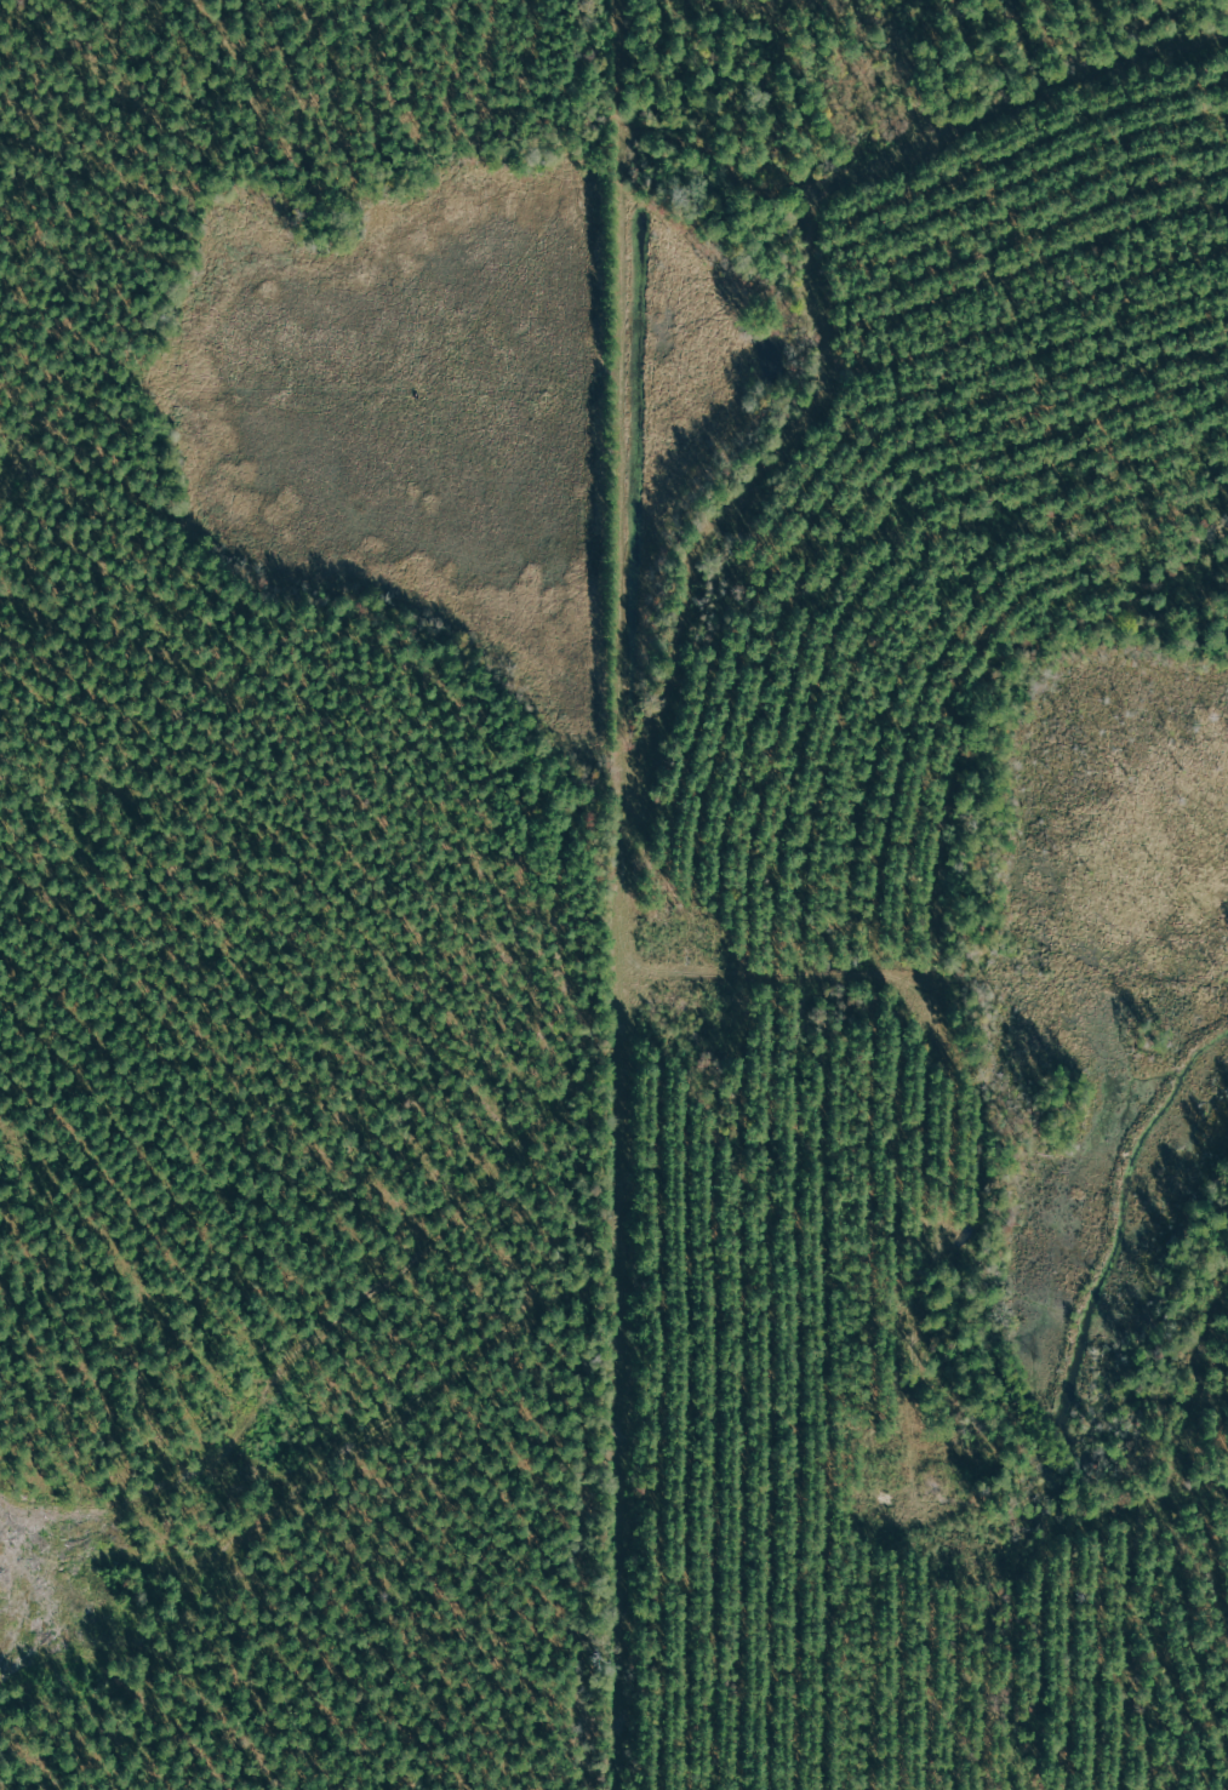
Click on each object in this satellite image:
road: (829, 141)
road: (632, 1090)

